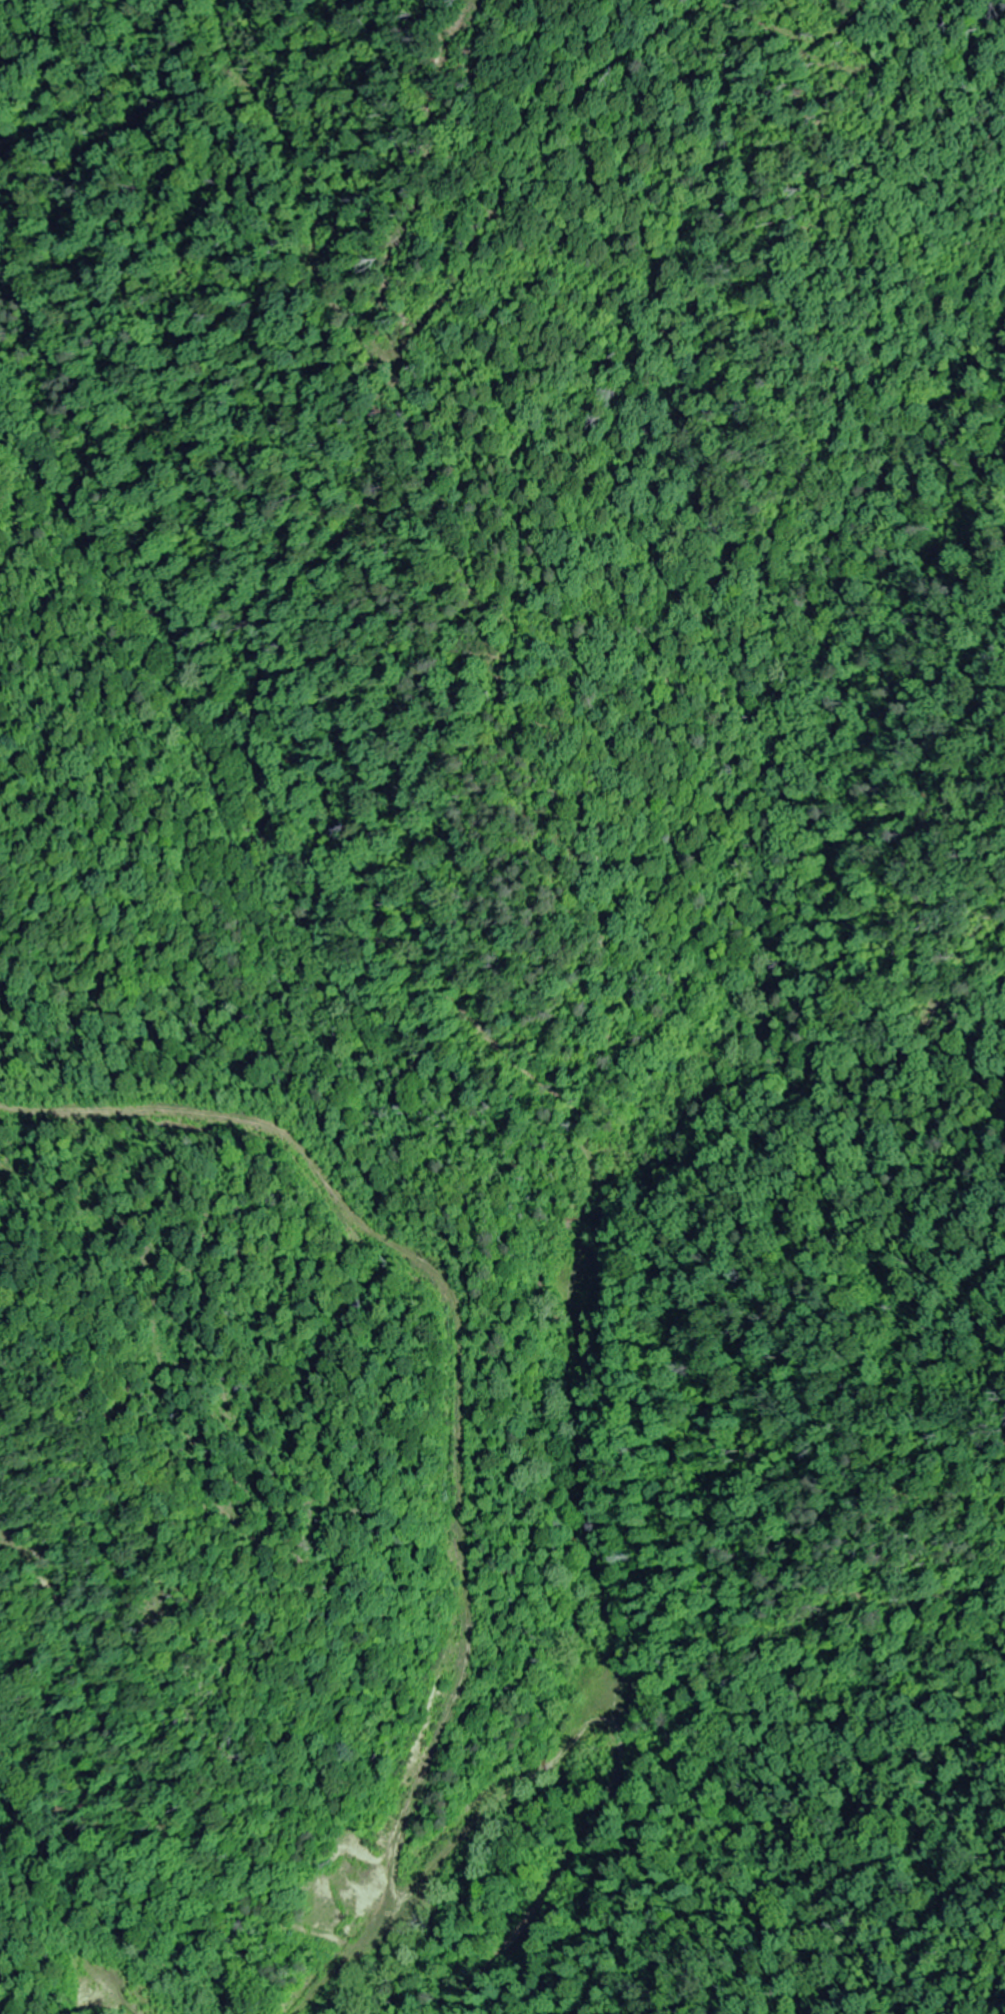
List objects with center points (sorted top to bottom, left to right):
road: (554, 1153)

